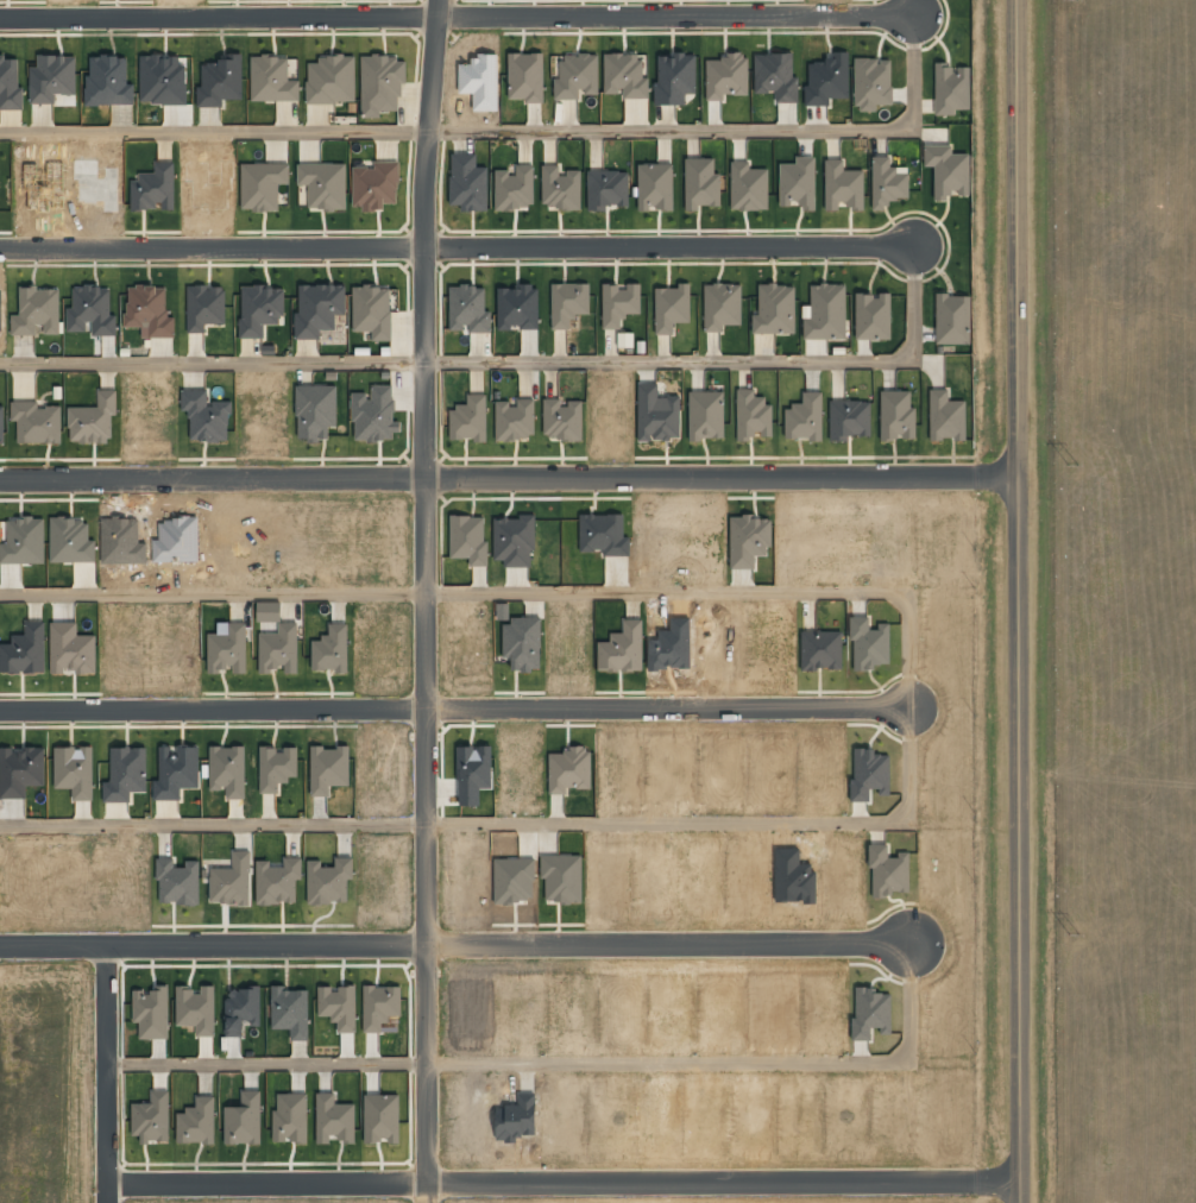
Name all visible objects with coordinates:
road: (440, 8)
road: (220, 15)
road: (678, 17)
building: (574, 75)
building: (625, 75)
building: (725, 76)
building: (775, 76)
building: (525, 77)
building: (51, 78)
building: (674, 78)
building: (271, 80)
building: (331, 80)
building: (10, 82)
building: (380, 83)
building: (871, 83)
building: (950, 89)
road: (511, 128)
road: (430, 132)
building: (946, 171)
building: (887, 182)
building: (467, 183)
building: (798, 183)
building: (323, 184)
building: (700, 184)
building: (262, 185)
building: (842, 185)
building: (374, 187)
building: (655, 187)
building: (748, 187)
building: (514, 188)
building: (560, 188)
building: (153, 189)
building: (608, 189)
road: (213, 247)
road: (672, 247)
building: (568, 303)
building: (619, 303)
building: (204, 307)
building: (722, 307)
building: (671, 308)
building: (260, 309)
building: (319, 309)
building: (468, 309)
building: (149, 310)
building: (774, 310)
building: (37, 311)
building: (92, 311)
building: (372, 311)
building: (824, 313)
building: (871, 317)
building: (952, 320)
road: (508, 359)
road: (427, 364)
building: (315, 411)
building: (374, 415)
building: (656, 415)
building: (705, 415)
building: (751, 415)
building: (896, 415)
building: (945, 416)
building: (206, 417)
building: (804, 418)
building: (93, 420)
building: (468, 420)
building: (515, 420)
building: (562, 420)
building: (849, 420)
building: (36, 422)
building: (1, 424)
power tower: (1072, 464)
road: (508, 479)
building: (514, 541)
road: (1015, 601)
building: (522, 643)
building: (71, 649)
building: (622, 649)
building: (25, 650)
building: (820, 650)
road: (453, 707)
road: (907, 708)
building: (328, 769)
building: (568, 770)
building: (74, 771)
building: (869, 774)
road: (427, 832)
building: (231, 881)
building: (177, 882)
building: (277, 882)
building: (328, 882)
power tower: (1075, 933)
road: (725, 944)
road: (213, 946)
building: (338, 1007)
building: (379, 1007)
building: (196, 1009)
building: (241, 1009)
building: (151, 1012)
road: (666, 1063)
road: (105, 1066)
building: (290, 1117)
building: (382, 1119)
building: (244, 1120)
building: (334, 1120)
building: (197, 1122)
road: (562, 1184)

